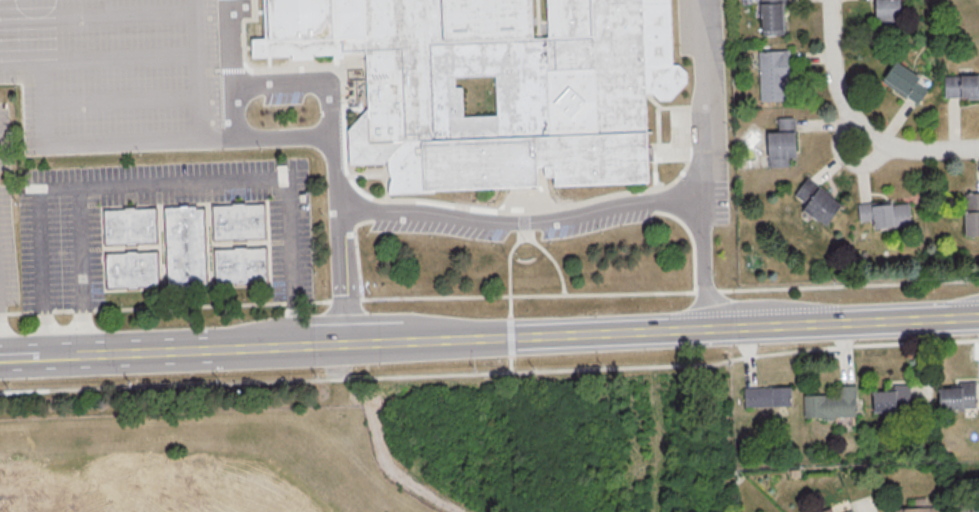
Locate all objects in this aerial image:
road: (97, 12)
building: (886, 12)
building: (771, 17)
road: (537, 19)
road: (97, 54)
road: (299, 64)
road: (263, 69)
road: (224, 70)
parking lot: (113, 74)
building: (773, 75)
building: (903, 82)
road: (283, 84)
building: (961, 85)
parking lot: (709, 95)
road: (111, 97)
building: (568, 98)
road: (703, 99)
road: (24, 100)
road: (673, 107)
road: (353, 108)
road: (858, 121)
road: (659, 124)
road: (297, 138)
road: (113, 139)
building: (781, 142)
road: (698, 152)
road: (667, 157)
road: (844, 161)
road: (654, 173)
road: (366, 175)
road: (160, 181)
road: (386, 182)
road: (545, 193)
building: (816, 201)
road: (488, 210)
building: (884, 213)
building: (971, 213)
parking lot: (599, 220)
building: (237, 222)
road: (518, 223)
building: (128, 226)
parking lot: (443, 226)
road: (692, 240)
building: (182, 246)
road: (357, 252)
road: (508, 257)
road: (551, 260)
road: (702, 263)
building: (238, 265)
road: (81, 269)
building: (129, 269)
road: (489, 295)
road: (578, 334)
road: (117, 352)
road: (39, 355)
road: (509, 355)
road: (11, 356)
road: (490, 373)
building: (766, 395)
building: (957, 395)
building: (891, 398)
building: (831, 403)
building: (918, 506)
building: (974, 507)
building: (824, 510)
building: (848, 511)
building: (942, 511)

